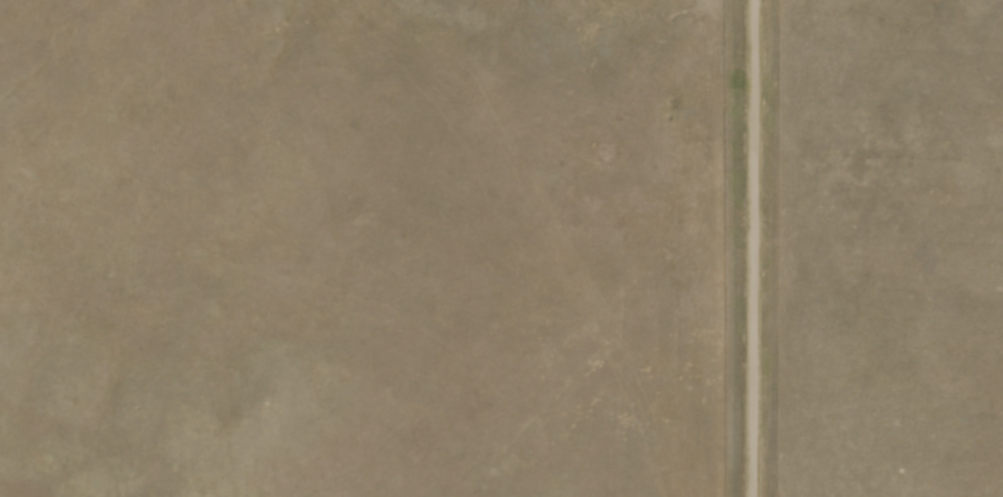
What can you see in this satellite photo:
road: (749, 248)

